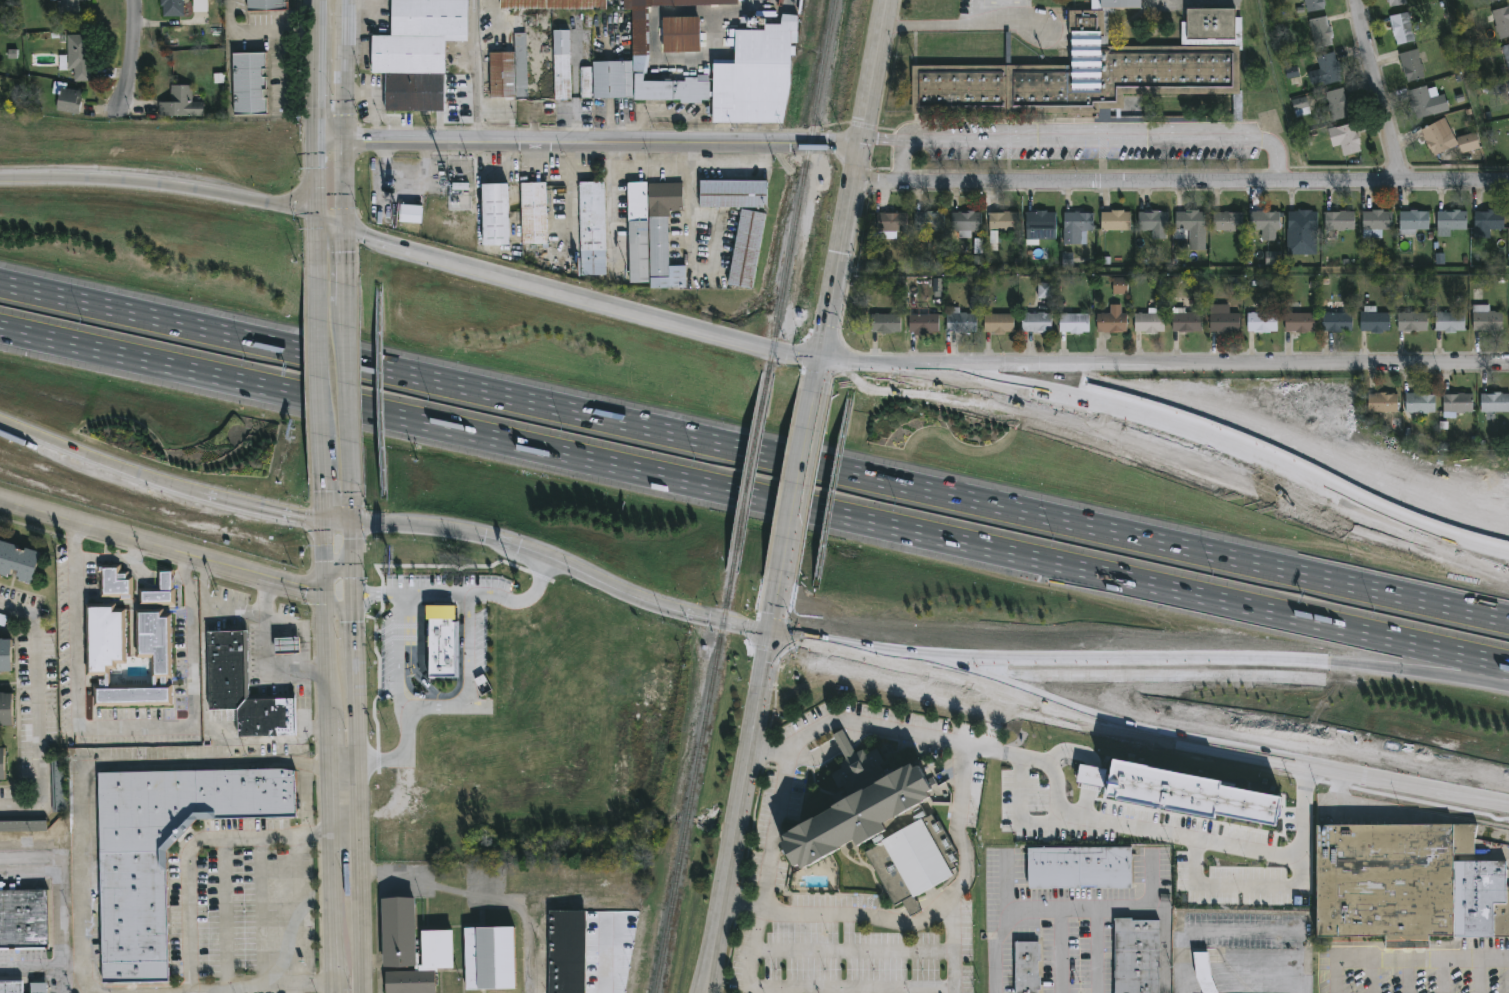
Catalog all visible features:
building: (1299, 0)
building: (1492, 0)
building: (1397, 2)
building: (555, 3)
building: (266, 4)
building: (1315, 5)
building: (172, 7)
building: (67, 8)
railway: (778, 9)
building: (1502, 21)
road: (958, 24)
building: (1404, 27)
building: (639, 31)
building: (1322, 31)
building: (681, 33)
building: (728, 35)
building: (417, 52)
building: (1506, 53)
building: (76, 56)
road: (132, 60)
building: (512, 62)
building: (562, 64)
building: (1412, 65)
building: (1327, 69)
road: (474, 70)
building: (1097, 71)
building: (755, 75)
building: (612, 79)
building: (248, 82)
building: (584, 82)
road: (1387, 89)
building: (66, 97)
building: (1508, 98)
road: (377, 101)
building: (1428, 101)
building: (180, 102)
building: (1338, 103)
building: (1301, 107)
road: (345, 111)
road: (1085, 132)
building: (1439, 136)
building: (1346, 138)
road: (314, 139)
traffic signals: (314, 140)
traffic signals: (345, 141)
road: (587, 141)
building: (1469, 141)
road: (901, 162)
road: (1181, 179)
road: (159, 184)
railway: (801, 187)
building: (733, 193)
road: (852, 196)
building: (534, 212)
building: (410, 213)
building: (493, 213)
traffic signals: (315, 218)
building: (1452, 219)
building: (929, 220)
building: (1003, 220)
building: (1116, 220)
building: (1154, 220)
building: (1228, 220)
building: (1265, 220)
building: (1340, 220)
building: (891, 222)
building: (966, 222)
building: (1414, 222)
building: (1488, 222)
traffic signals: (346, 223)
building: (1376, 223)
building: (1040, 226)
building: (1078, 227)
road: (363, 228)
building: (592, 228)
building: (1192, 228)
building: (638, 232)
building: (1302, 232)
building: (663, 235)
building: (993, 237)
building: (978, 246)
building: (746, 248)
road: (345, 253)
building: (1273, 258)
building: (1068, 259)
building: (1120, 285)
building: (937, 288)
building: (1044, 291)
road: (345, 295)
road: (616, 300)
road: (149, 316)
building: (1223, 318)
building: (1486, 318)
building: (1112, 320)
building: (1375, 320)
building: (961, 321)
building: (1150, 321)
building: (1338, 321)
building: (1413, 321)
building: (1450, 321)
building: (886, 322)
building: (999, 322)
building: (1037, 322)
building: (1187, 322)
building: (1262, 322)
building: (1299, 322)
building: (924, 323)
building: (1074, 323)
road: (344, 360)
road: (147, 361)
traffic signals: (820, 363)
road: (1193, 366)
road: (320, 377)
road: (348, 394)
building: (1383, 402)
building: (1495, 402)
building: (1419, 403)
building: (1459, 403)
road: (342, 404)
road: (1173, 430)
road: (95, 457)
railway: (749, 474)
road: (798, 481)
road: (949, 495)
road: (324, 499)
road: (259, 507)
traffic signals: (325, 522)
traffic signals: (352, 522)
road: (352, 533)
road: (949, 539)
road: (508, 542)
road: (1431, 546)
road: (176, 551)
building: (18, 561)
road: (134, 567)
road: (179, 577)
road: (166, 580)
building: (115, 583)
traffic signals: (355, 585)
traffic signals: (324, 587)
building: (159, 591)
road: (465, 593)
road: (777, 602)
road: (325, 620)
road: (726, 621)
road: (355, 627)
road: (305, 629)
traffic signals: (772, 633)
building: (105, 636)
road: (799, 640)
building: (443, 642)
road: (468, 643)
building: (286, 646)
road: (402, 649)
building: (5, 655)
road: (262, 656)
road: (1092, 661)
road: (1434, 674)
building: (243, 690)
road: (438, 704)
building: (6, 709)
road: (38, 711)
road: (356, 714)
road: (117, 727)
road: (890, 729)
road: (328, 740)
road: (1163, 744)
road: (403, 752)
road: (1070, 752)
road: (343, 761)
building: (2, 765)
building: (1092, 775)
road: (1091, 777)
road: (1056, 779)
road: (82, 780)
railway: (693, 782)
building: (59, 786)
building: (1190, 794)
road: (306, 798)
road: (1085, 808)
road: (740, 813)
building: (23, 826)
building: (879, 828)
road: (344, 834)
road: (358, 835)
road: (1155, 836)
building: (162, 851)
building: (1080, 868)
road: (332, 873)
road: (189, 878)
building: (1388, 882)
road: (1006, 883)
road: (1238, 886)
road: (58, 888)
road: (482, 895)
building: (1479, 899)
road: (1148, 903)
road: (741, 906)
parking lot: (240, 909)
road: (297, 912)
road: (1053, 912)
road: (260, 913)
road: (225, 914)
road: (856, 918)
building: (22, 919)
road: (1242, 931)
building: (399, 932)
road: (359, 951)
building: (566, 951)
road: (1060, 952)
road: (610, 956)
building: (1137, 956)
road: (1405, 958)
building: (488, 959)
building: (425, 965)
parking lot: (23, 967)
building: (1027, 968)
road: (42, 969)
building: (1204, 973)
road: (1407, 975)
road: (1444, 975)
road: (1480, 975)
road: (1370, 976)
parking lot: (1405, 978)
road: (274, 987)
building: (10, 988)
building: (38, 988)
road: (856, 988)
road: (335, 989)
road: (205, 990)
road: (298, 990)
road: (955, 990)

